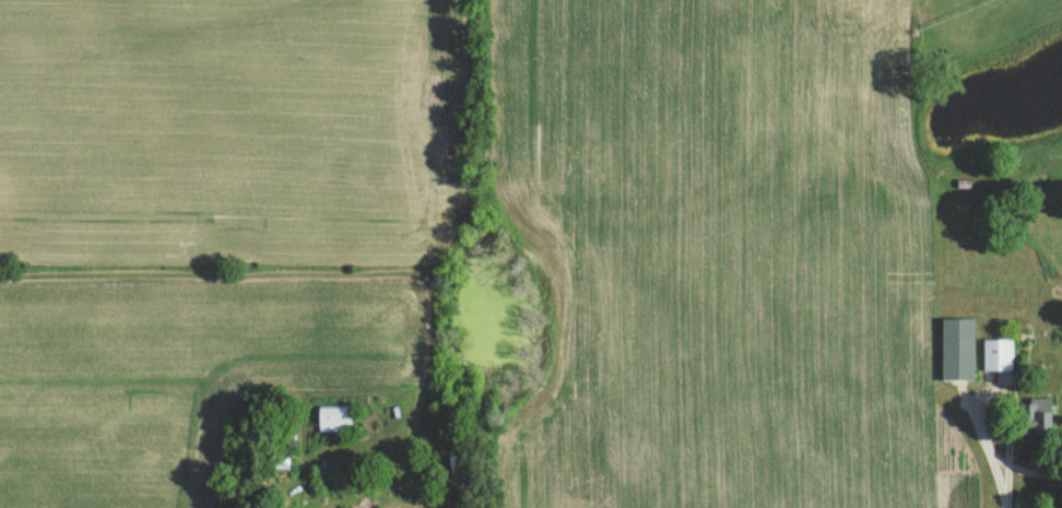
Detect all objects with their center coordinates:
building: (956, 351)
building: (995, 357)
building: (1035, 417)
building: (332, 421)
road: (1003, 465)

